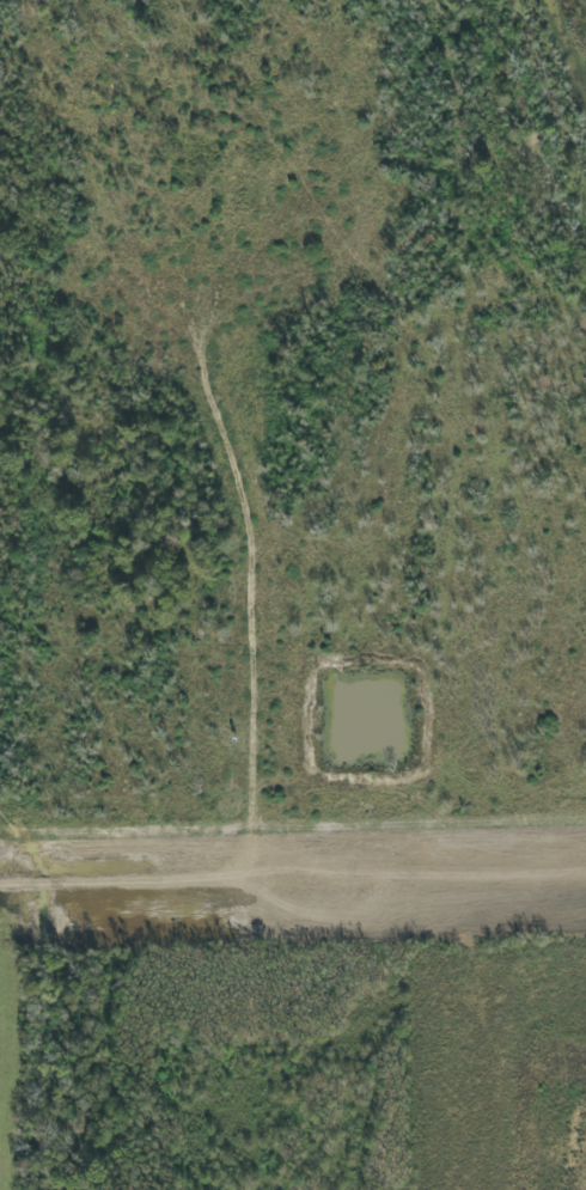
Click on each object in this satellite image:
road: (293, 881)
road: (293, 921)

